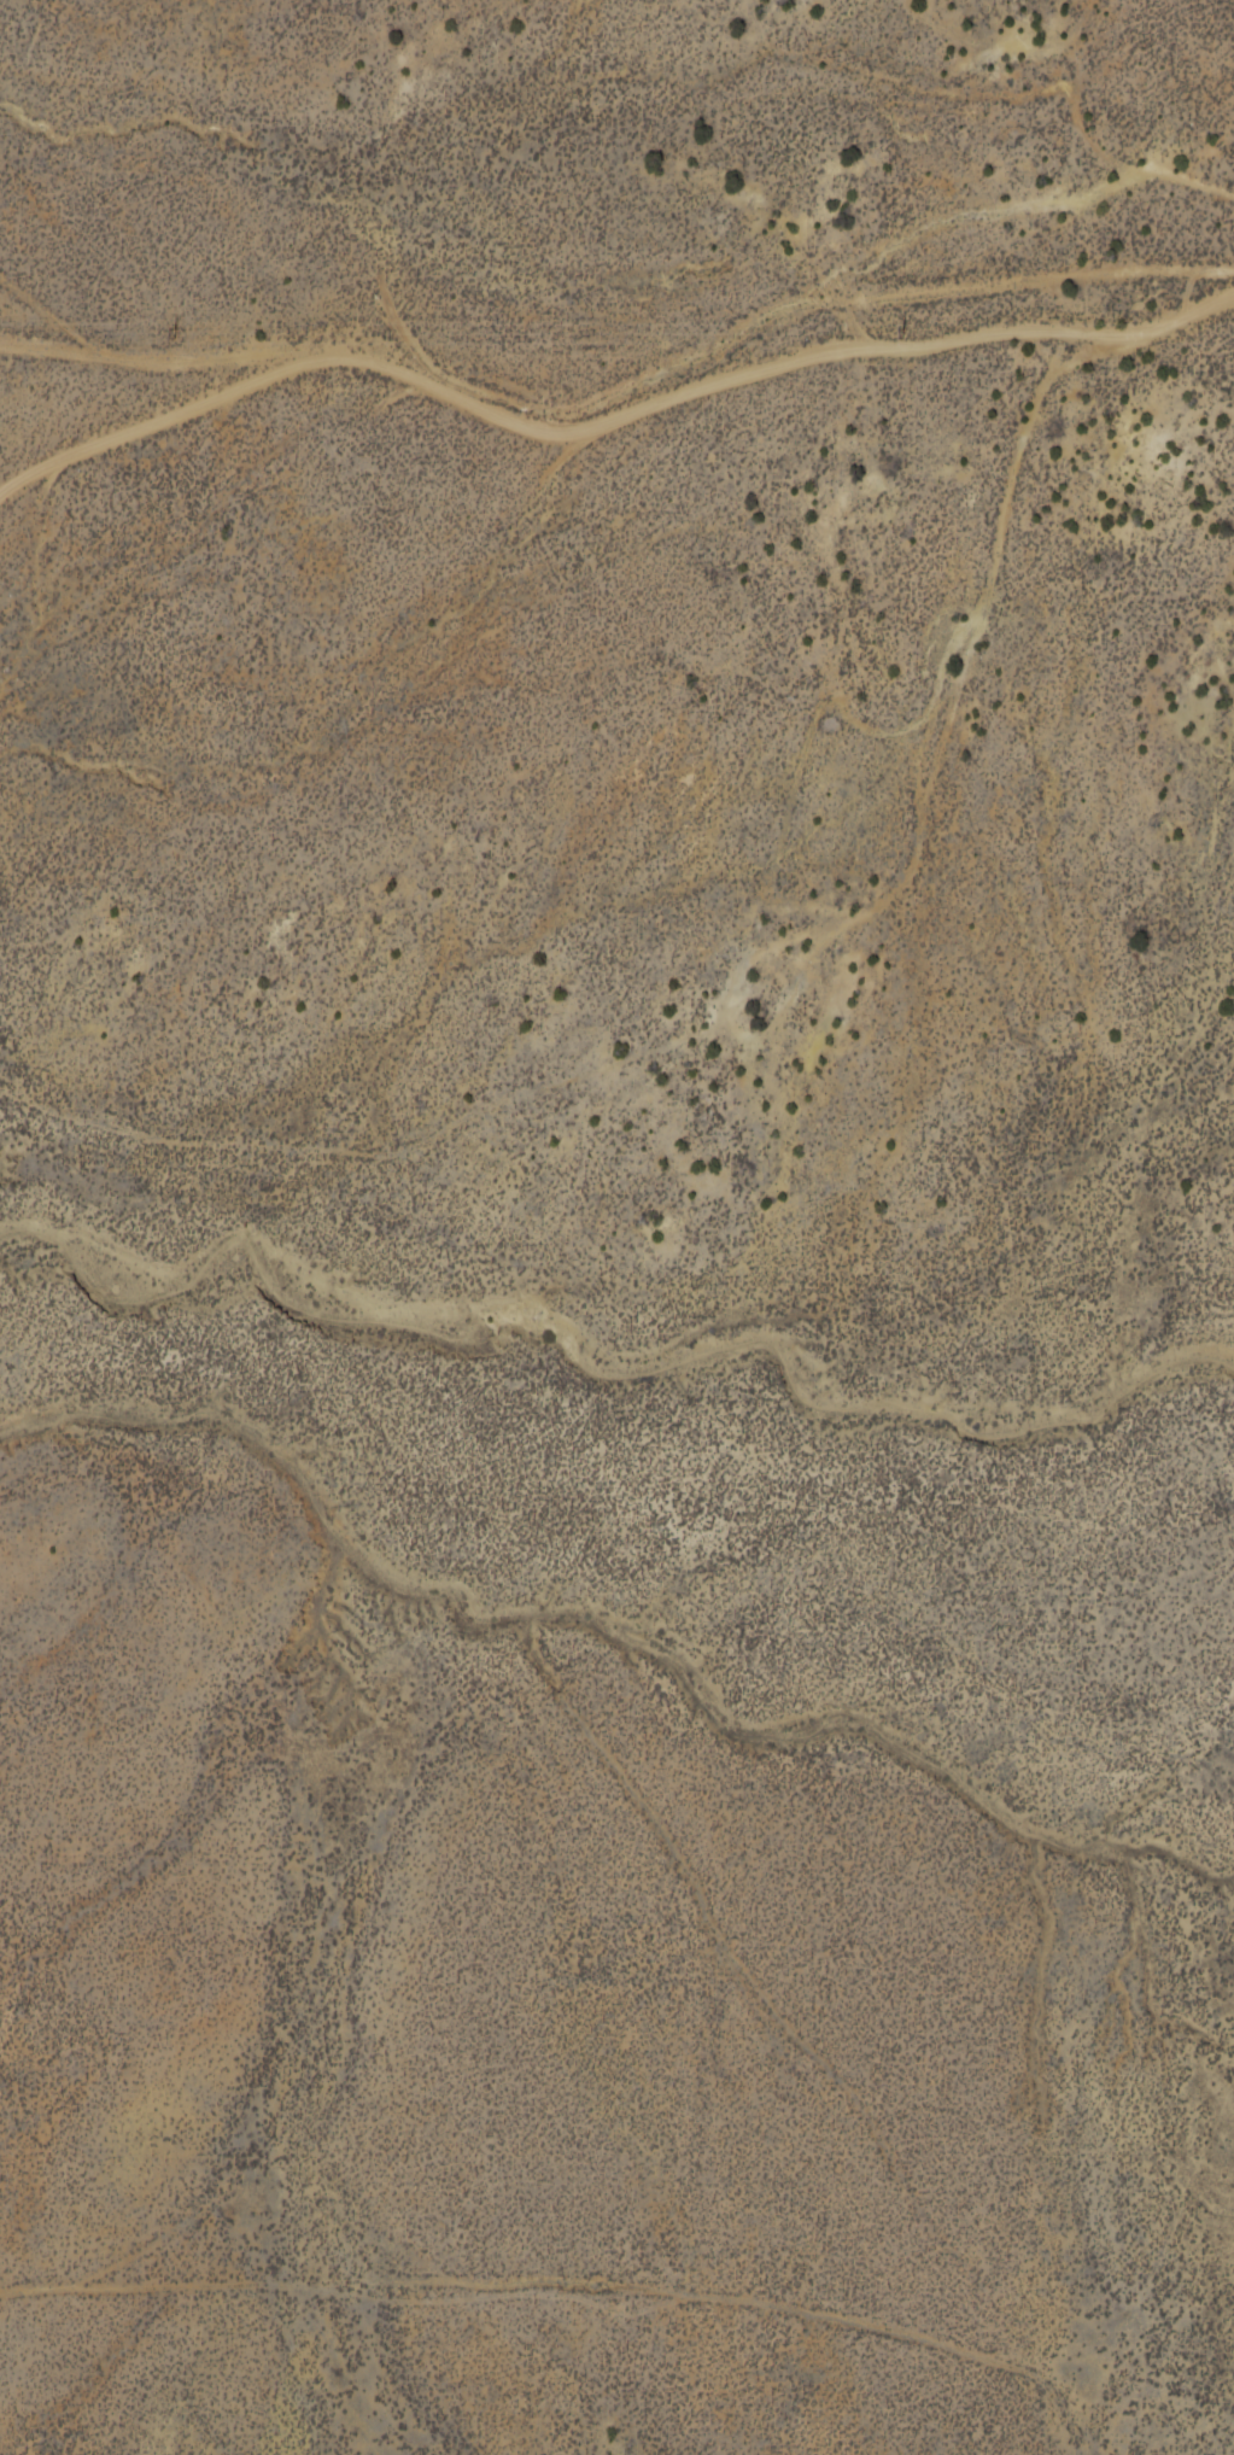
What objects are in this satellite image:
power tower: (171, 334)
power tower: (859, 344)
road: (158, 364)
road: (767, 367)
road: (156, 420)

